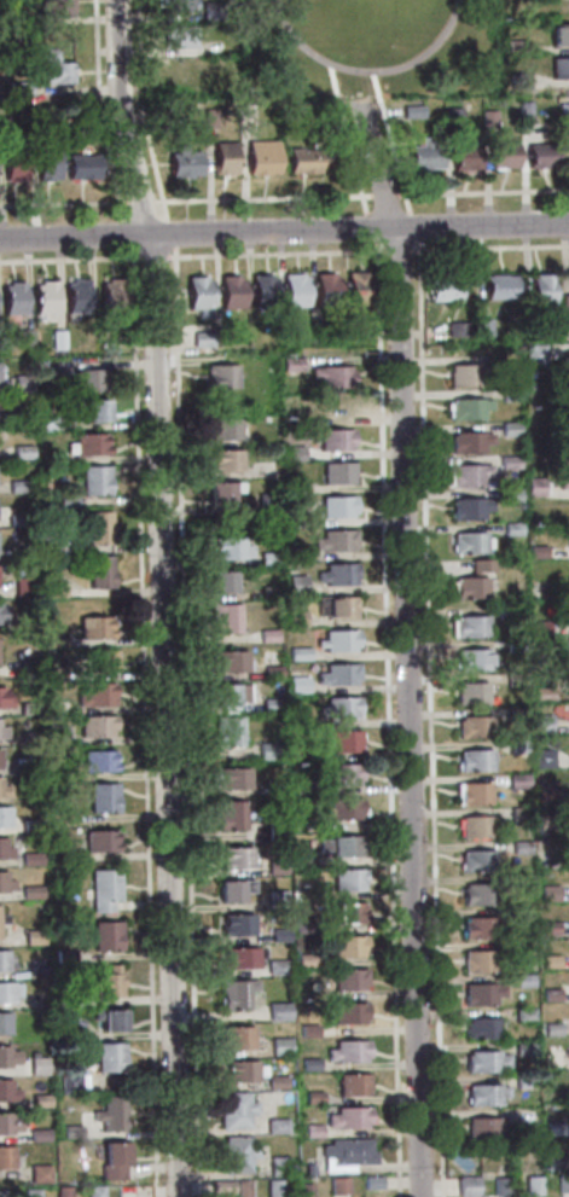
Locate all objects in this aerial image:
building: (172, 5)
building: (557, 5)
building: (57, 7)
building: (208, 8)
building: (19, 16)
building: (558, 34)
building: (175, 35)
building: (512, 46)
park: (366, 47)
building: (558, 68)
building: (51, 69)
building: (517, 81)
building: (17, 88)
road: (98, 110)
building: (288, 110)
road: (141, 111)
building: (412, 111)
building: (523, 111)
building: (562, 112)
building: (451, 118)
building: (486, 118)
building: (4, 127)
building: (501, 155)
building: (259, 156)
building: (423, 156)
building: (463, 156)
building: (539, 156)
building: (220, 158)
road: (350, 159)
road: (393, 159)
building: (300, 161)
building: (180, 162)
building: (46, 163)
building: (12, 164)
building: (80, 167)
road: (483, 194)
road: (384, 198)
road: (262, 201)
road: (140, 205)
road: (62, 207)
road: (412, 228)
road: (370, 229)
road: (284, 232)
road: (126, 234)
road: (168, 237)
road: (489, 250)
road: (395, 252)
road: (274, 256)
road: (152, 260)
road: (68, 262)
building: (498, 286)
building: (323, 289)
building: (355, 289)
building: (441, 289)
building: (259, 290)
building: (291, 290)
building: (227, 291)
building: (539, 291)
building: (194, 294)
building: (75, 295)
building: (111, 295)
building: (12, 297)
building: (43, 297)
building: (564, 312)
building: (480, 327)
building: (529, 327)
building: (454, 329)
building: (315, 331)
building: (350, 332)
building: (283, 335)
building: (24, 338)
building: (56, 338)
building: (199, 338)
building: (533, 353)
building: (565, 361)
building: (289, 364)
building: (48, 368)
building: (527, 373)
building: (0, 374)
building: (461, 374)
building: (220, 376)
building: (330, 376)
building: (85, 379)
building: (21, 384)
building: (528, 384)
building: (565, 390)
building: (506, 394)
building: (329, 405)
building: (465, 408)
building: (93, 411)
building: (11, 420)
building: (291, 420)
building: (47, 423)
building: (507, 428)
building: (223, 429)
building: (333, 438)
building: (466, 441)
building: (87, 444)
building: (565, 448)
building: (22, 452)
building: (292, 453)
building: (50, 457)
building: (223, 459)
building: (507, 461)
building: (336, 473)
building: (466, 475)
building: (93, 480)
building: (564, 481)
building: (16, 486)
building: (294, 486)
building: (533, 487)
building: (220, 492)
building: (507, 495)
building: (66, 501)
building: (265, 501)
building: (335, 506)
building: (466, 509)
building: (17, 519)
building: (295, 519)
building: (98, 528)
building: (511, 529)
building: (567, 536)
building: (333, 540)
building: (466, 542)
building: (51, 544)
building: (228, 550)
building: (535, 551)
building: (292, 553)
building: (268, 559)
building: (480, 565)
building: (99, 571)
building: (336, 574)
building: (220, 582)
building: (294, 583)
building: (23, 587)
building: (469, 587)
building: (54, 591)
building: (268, 593)
road: (161, 595)
building: (335, 608)
building: (504, 611)
building: (2, 612)
building: (295, 616)
building: (223, 618)
building: (538, 626)
building: (94, 627)
building: (469, 627)
building: (267, 635)
building: (53, 640)
building: (336, 640)
building: (513, 645)
road: (406, 647)
building: (297, 653)
building: (470, 659)
building: (100, 661)
building: (228, 662)
building: (27, 668)
building: (269, 672)
building: (53, 674)
building: (337, 674)
building: (567, 674)
building: (513, 679)
building: (296, 685)
building: (470, 692)
building: (541, 693)
building: (94, 695)
building: (222, 695)
building: (1, 698)
building: (269, 704)
building: (56, 707)
building: (25, 708)
building: (338, 708)
building: (515, 713)
road: (387, 720)
road: (429, 720)
building: (540, 722)
road: (185, 724)
road: (143, 725)
building: (94, 726)
building: (4, 727)
building: (474, 727)
building: (226, 731)
building: (57, 736)
building: (29, 738)
building: (343, 740)
building: (517, 748)
building: (267, 750)
building: (300, 751)
building: (1, 757)
building: (542, 757)
building: (474, 760)
building: (97, 761)
building: (337, 773)
building: (230, 777)
building: (516, 780)
building: (5, 786)
building: (300, 788)
building: (544, 792)
building: (472, 794)
building: (101, 797)
building: (339, 809)
building: (228, 815)
building: (517, 815)
building: (4, 817)
building: (59, 819)
building: (301, 823)
building: (544, 824)
building: (30, 825)
building: (472, 827)
building: (273, 831)
building: (98, 839)
building: (341, 846)
building: (518, 847)
building: (2, 848)
building: (234, 858)
building: (302, 858)
building: (29, 859)
building: (477, 860)
building: (275, 866)
building: (346, 879)
building: (519, 881)
building: (2, 882)
building: (103, 889)
building: (232, 890)
building: (30, 893)
building: (477, 894)
building: (547, 894)
building: (292, 896)
building: (275, 897)
building: (347, 913)
building: (2, 919)
building: (236, 924)
building: (302, 925)
building: (547, 926)
building: (477, 928)
building: (105, 935)
building: (278, 935)
building: (33, 937)
building: (347, 946)
building: (521, 947)
building: (64, 957)
building: (238, 958)
building: (304, 960)
building: (2, 961)
building: (476, 961)
building: (548, 961)
building: (275, 968)
building: (347, 978)
building: (522, 980)
building: (106, 983)
building: (4, 993)
building: (234, 993)
building: (476, 994)
building: (548, 995)
building: (63, 998)
building: (277, 1011)
building: (348, 1012)
building: (523, 1015)
building: (108, 1019)
building: (4, 1024)
building: (548, 1028)
building: (481, 1029)
building: (307, 1030)
building: (68, 1033)
building: (236, 1038)
building: (279, 1046)
building: (523, 1048)
building: (347, 1051)
building: (2, 1057)
building: (108, 1057)
building: (481, 1062)
building: (308, 1064)
building: (36, 1065)
building: (240, 1071)
building: (68, 1082)
building: (274, 1082)
building: (352, 1085)
building: (4, 1091)
building: (483, 1096)
building: (313, 1098)
building: (39, 1100)
building: (234, 1110)
building: (109, 1114)
building: (347, 1118)
building: (4, 1125)
building: (275, 1126)
building: (553, 1128)
building: (484, 1129)
building: (70, 1131)
building: (312, 1131)
building: (37, 1134)
building: (347, 1151)
building: (236, 1154)
building: (5, 1157)
building: (111, 1160)
building: (553, 1162)
building: (277, 1166)
building: (37, 1173)
building: (371, 1183)
building: (563, 1184)
building: (500, 1185)
building: (336, 1186)
building: (465, 1186)
building: (530, 1186)
building: (220, 1187)
building: (242, 1189)
building: (273, 1189)
building: (303, 1190)
building: (93, 1191)
building: (29, 1192)
building: (62, 1192)
building: (0, 1193)

